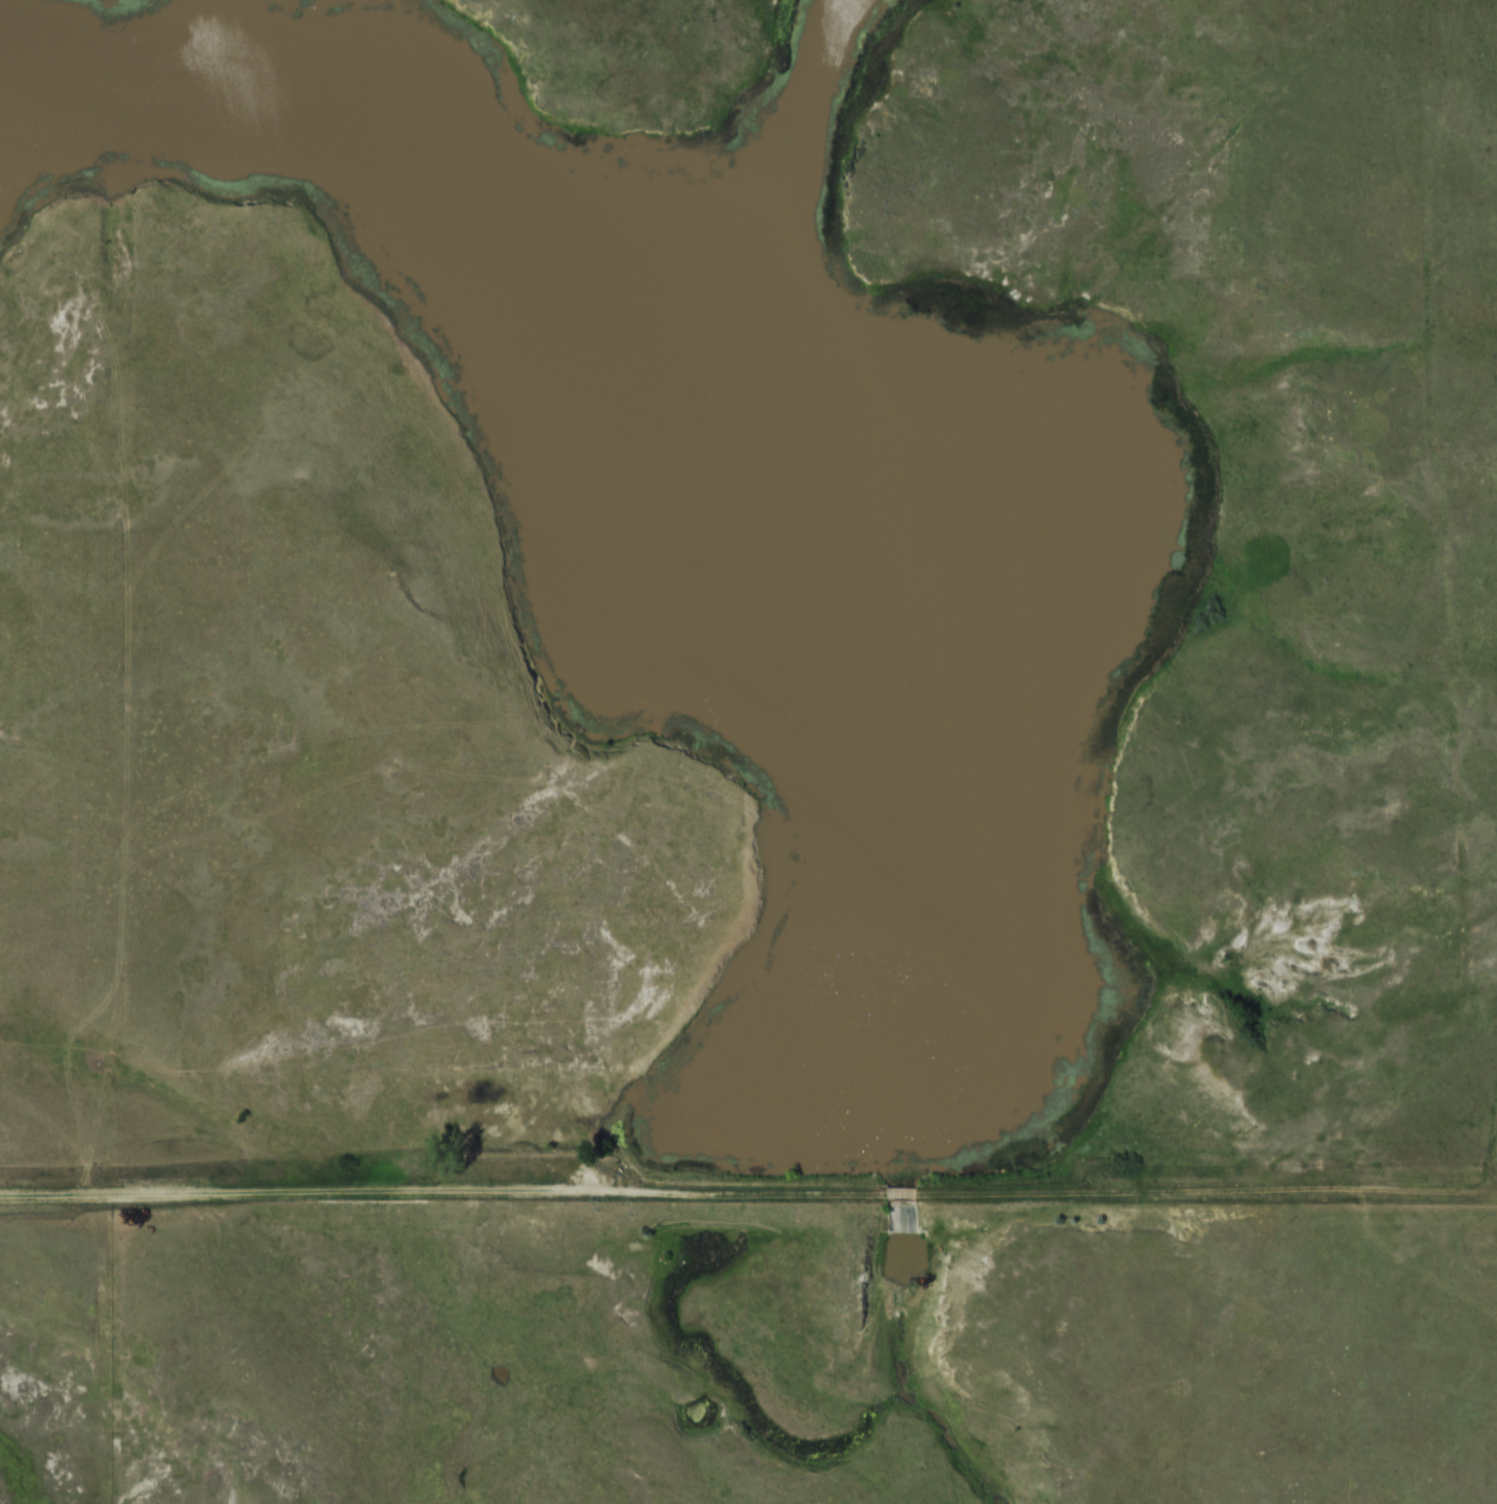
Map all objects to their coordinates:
dam: (821, 1166)
road: (748, 1196)

